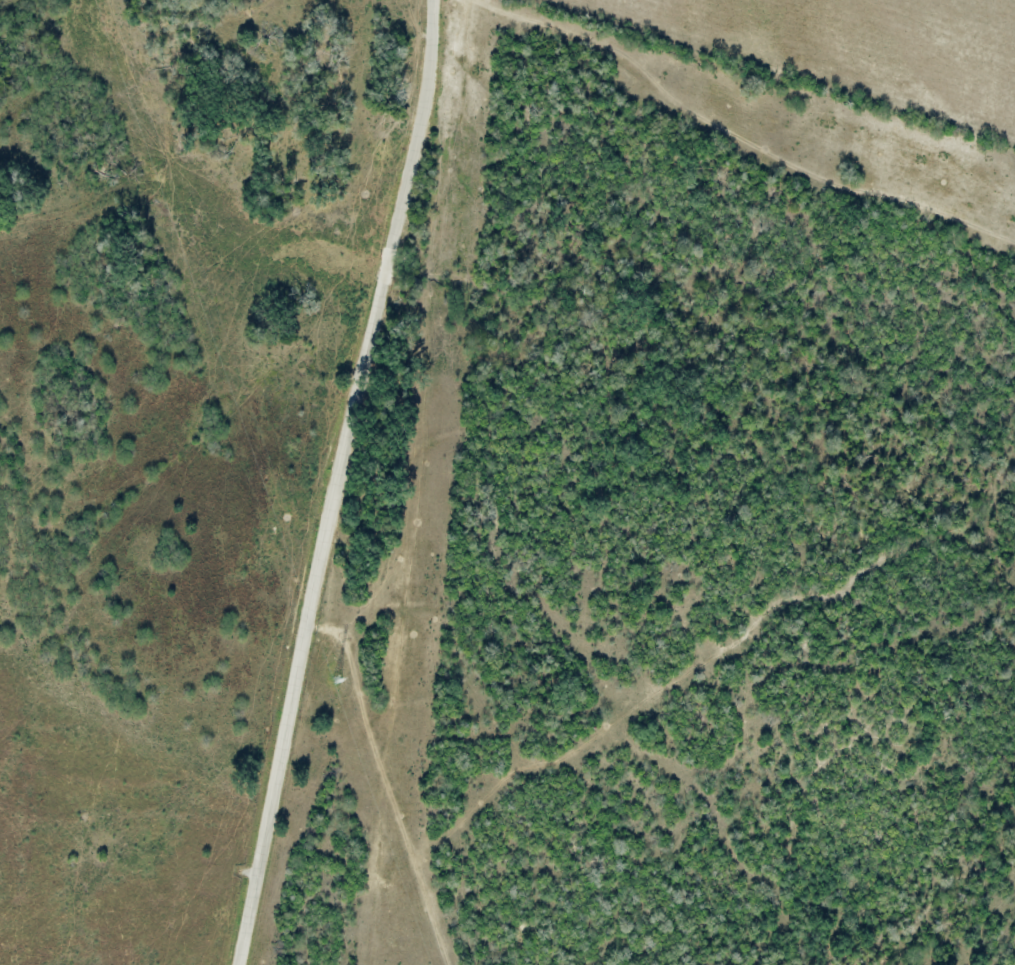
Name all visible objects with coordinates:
road: (343, 482)
power tower: (337, 682)

